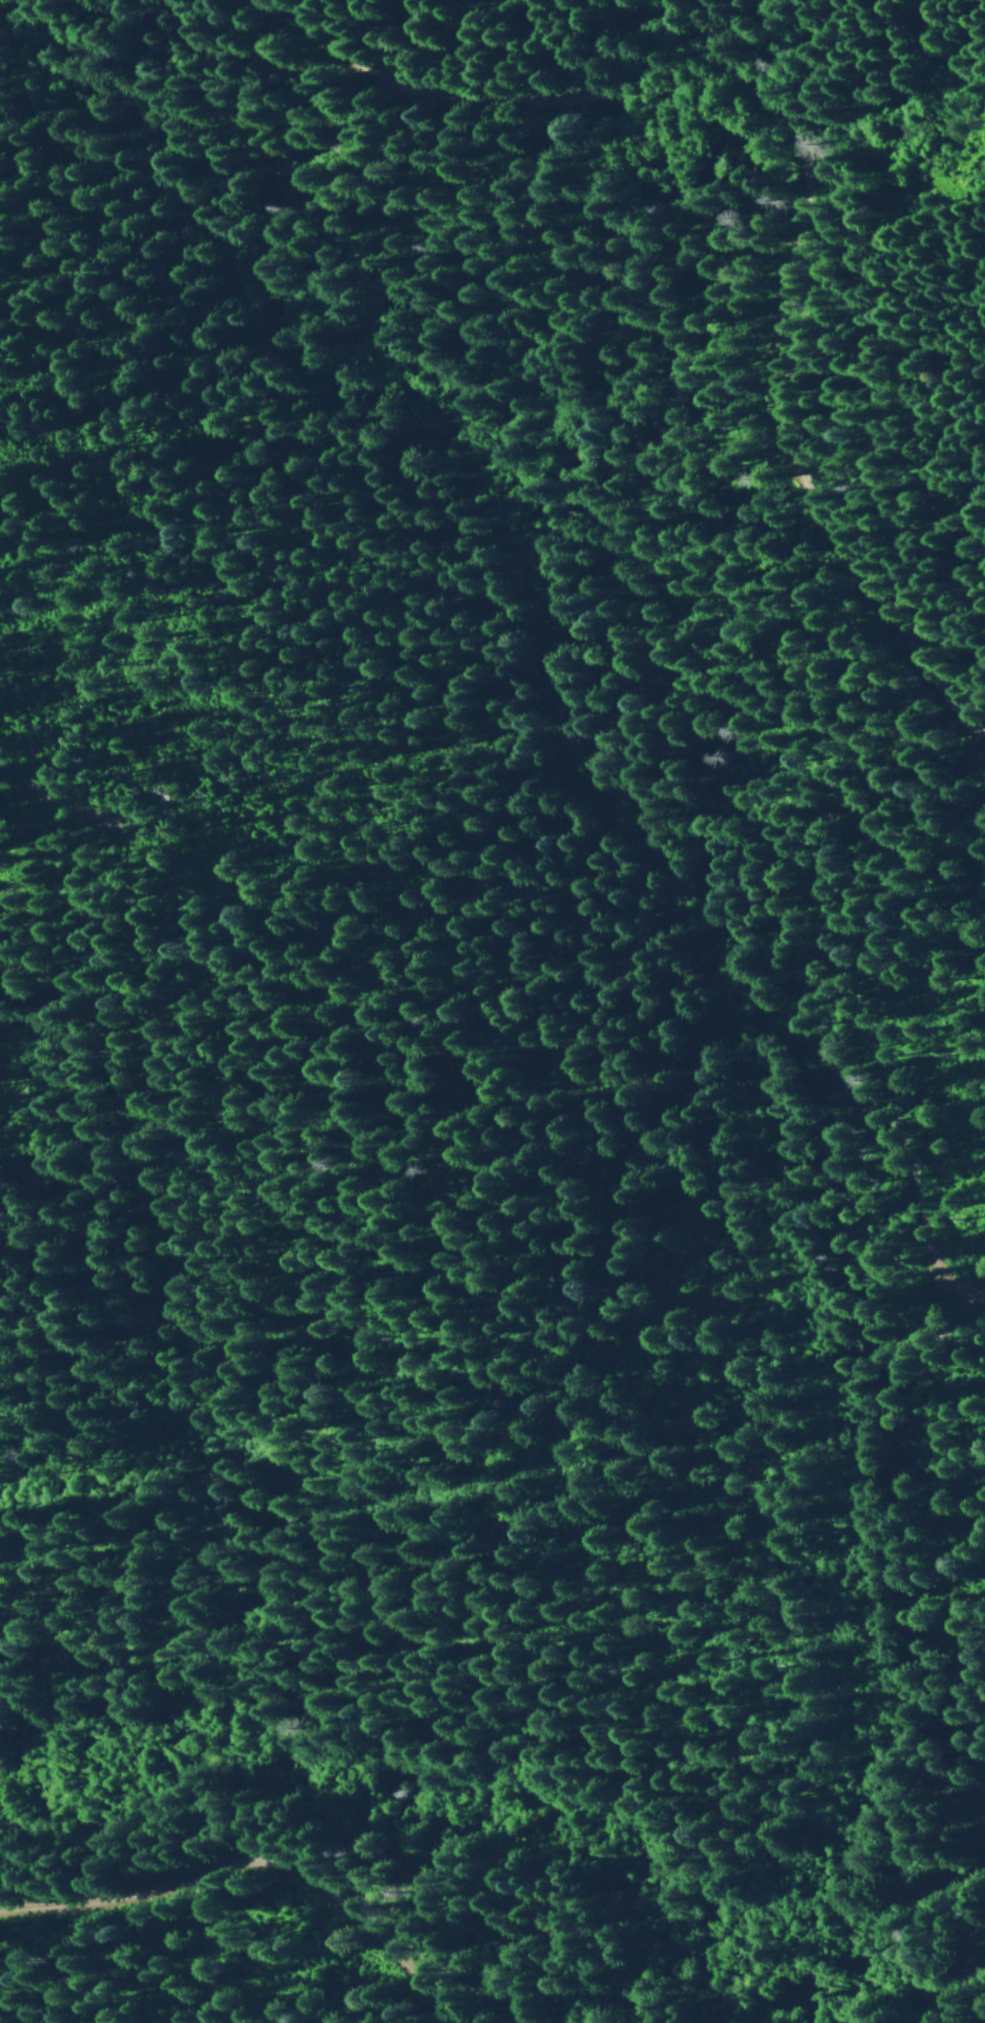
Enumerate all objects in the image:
road: (744, 156)
road: (56, 798)
river: (515, 1813)
road: (241, 1867)
road: (954, 1993)

